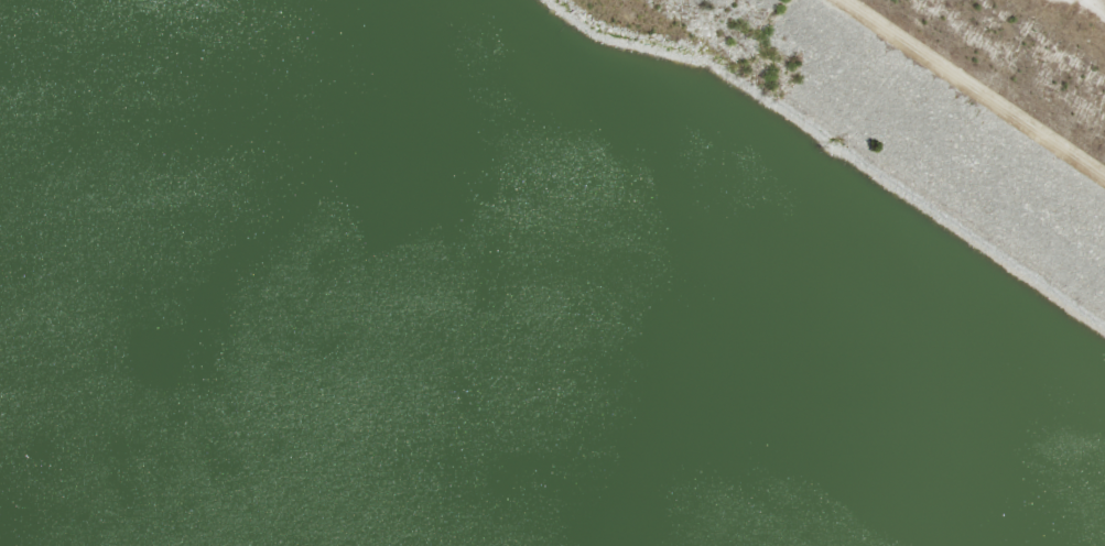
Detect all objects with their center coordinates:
road: (966, 94)
dam: (932, 121)

